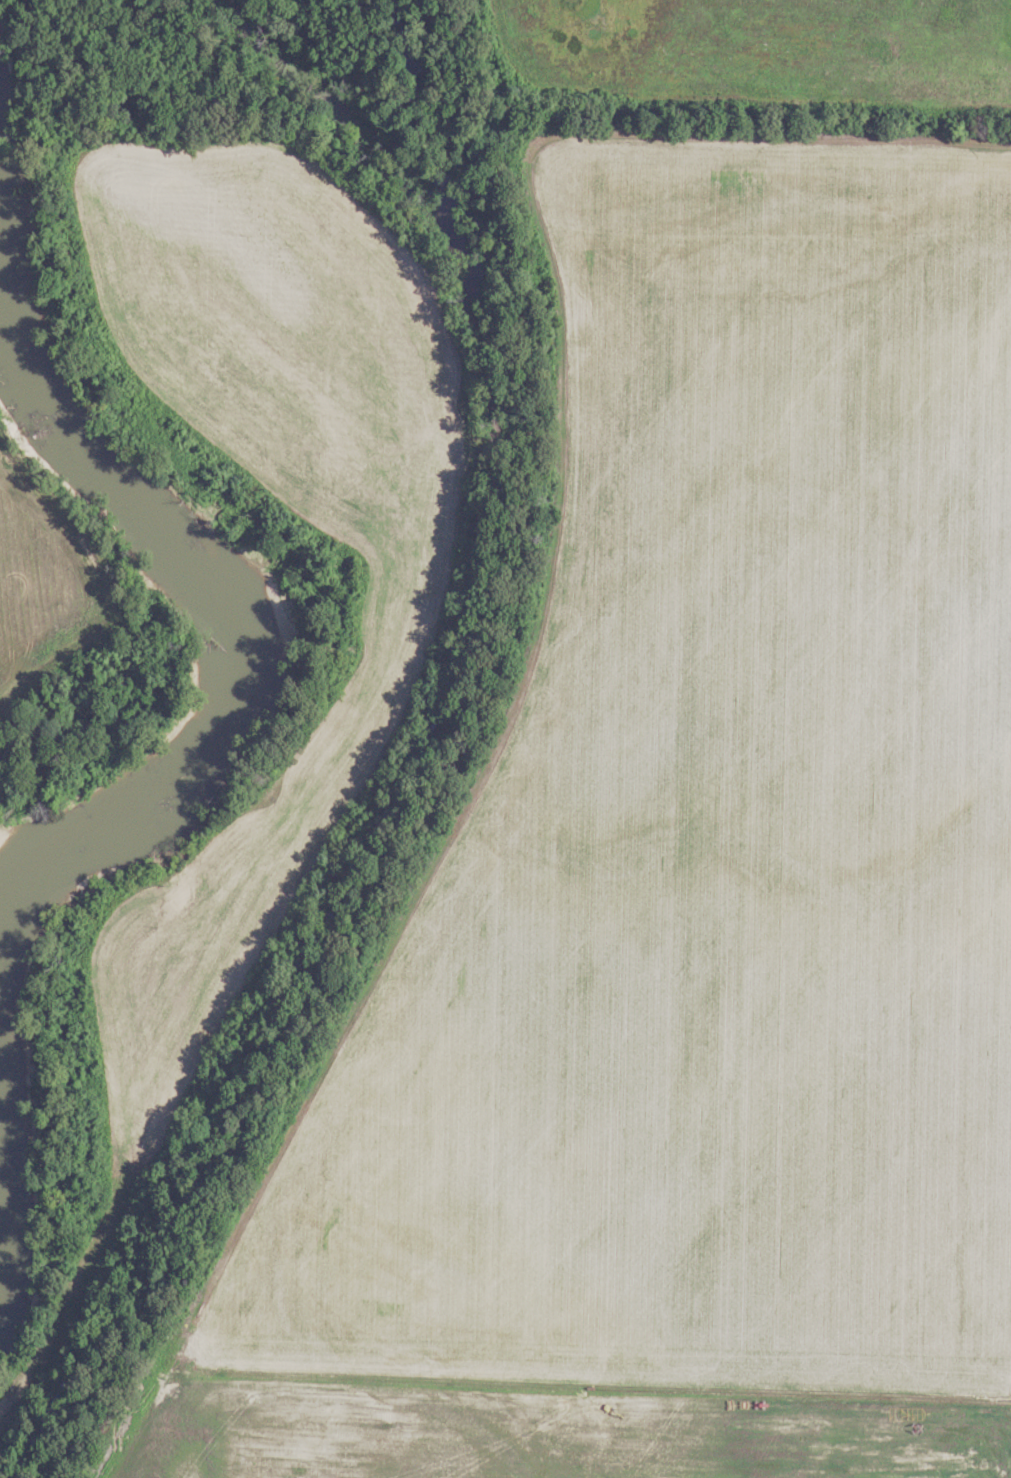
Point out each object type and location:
river: (227, 632)

